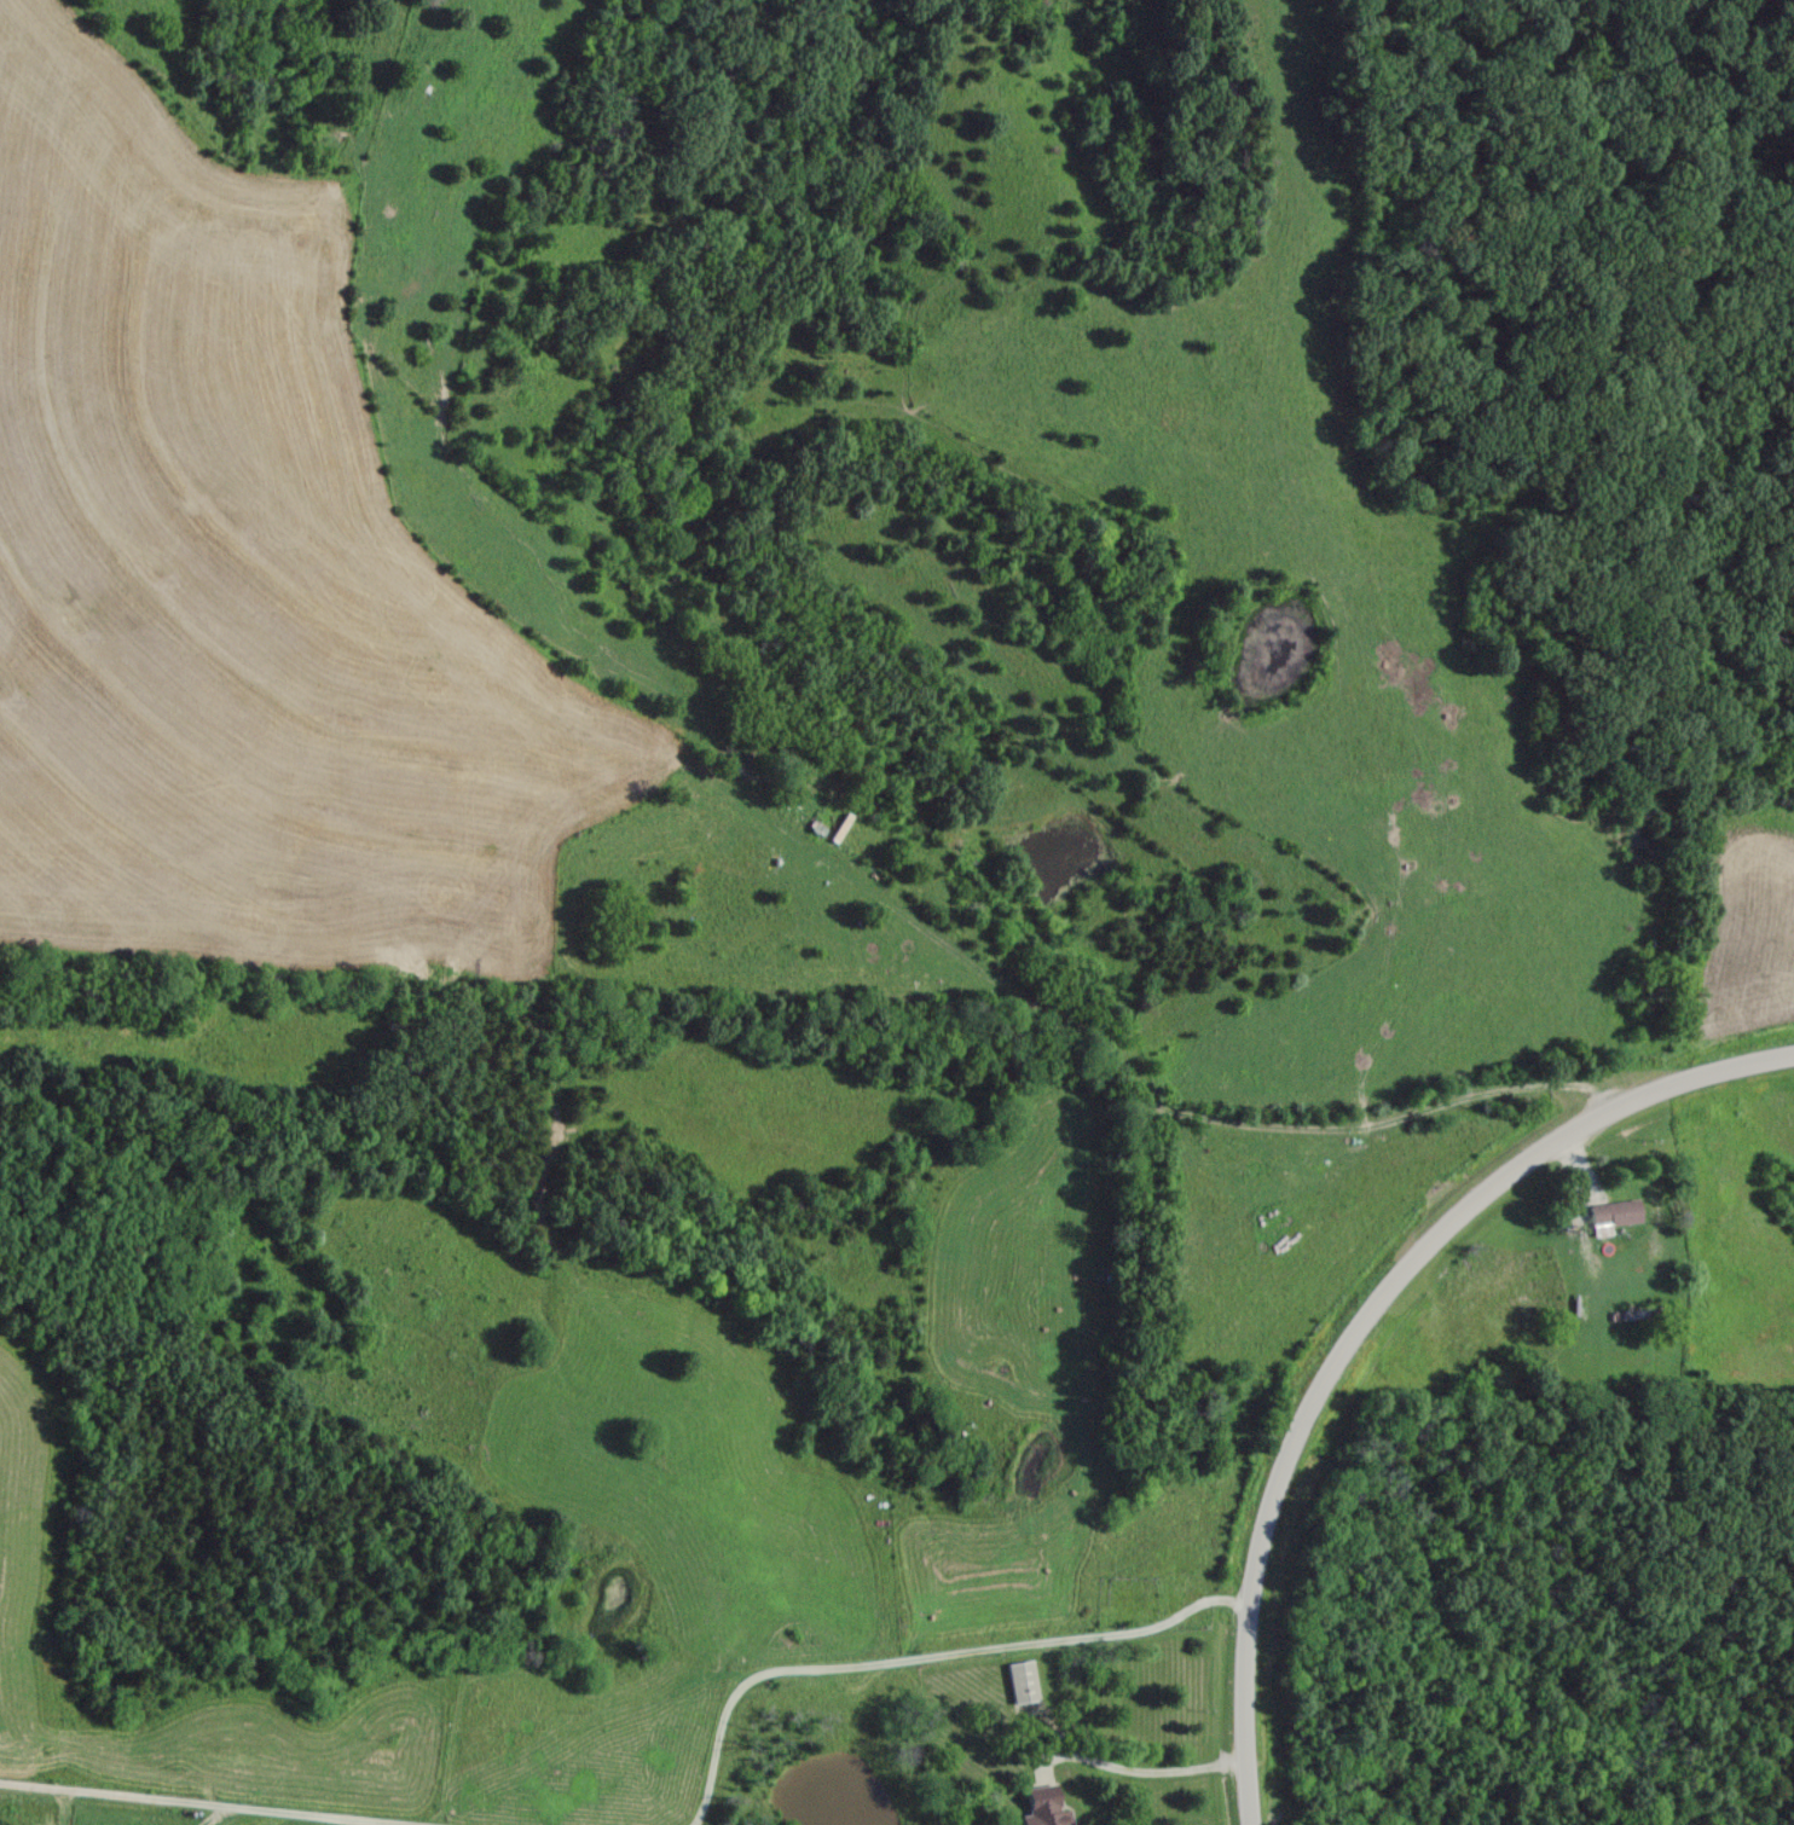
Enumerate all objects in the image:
road: (822, 845)
building: (1614, 1215)
road: (1362, 1323)
road: (924, 1658)
building: (1024, 1682)
road: (1134, 1768)
road: (198, 1804)
building: (1044, 1807)

